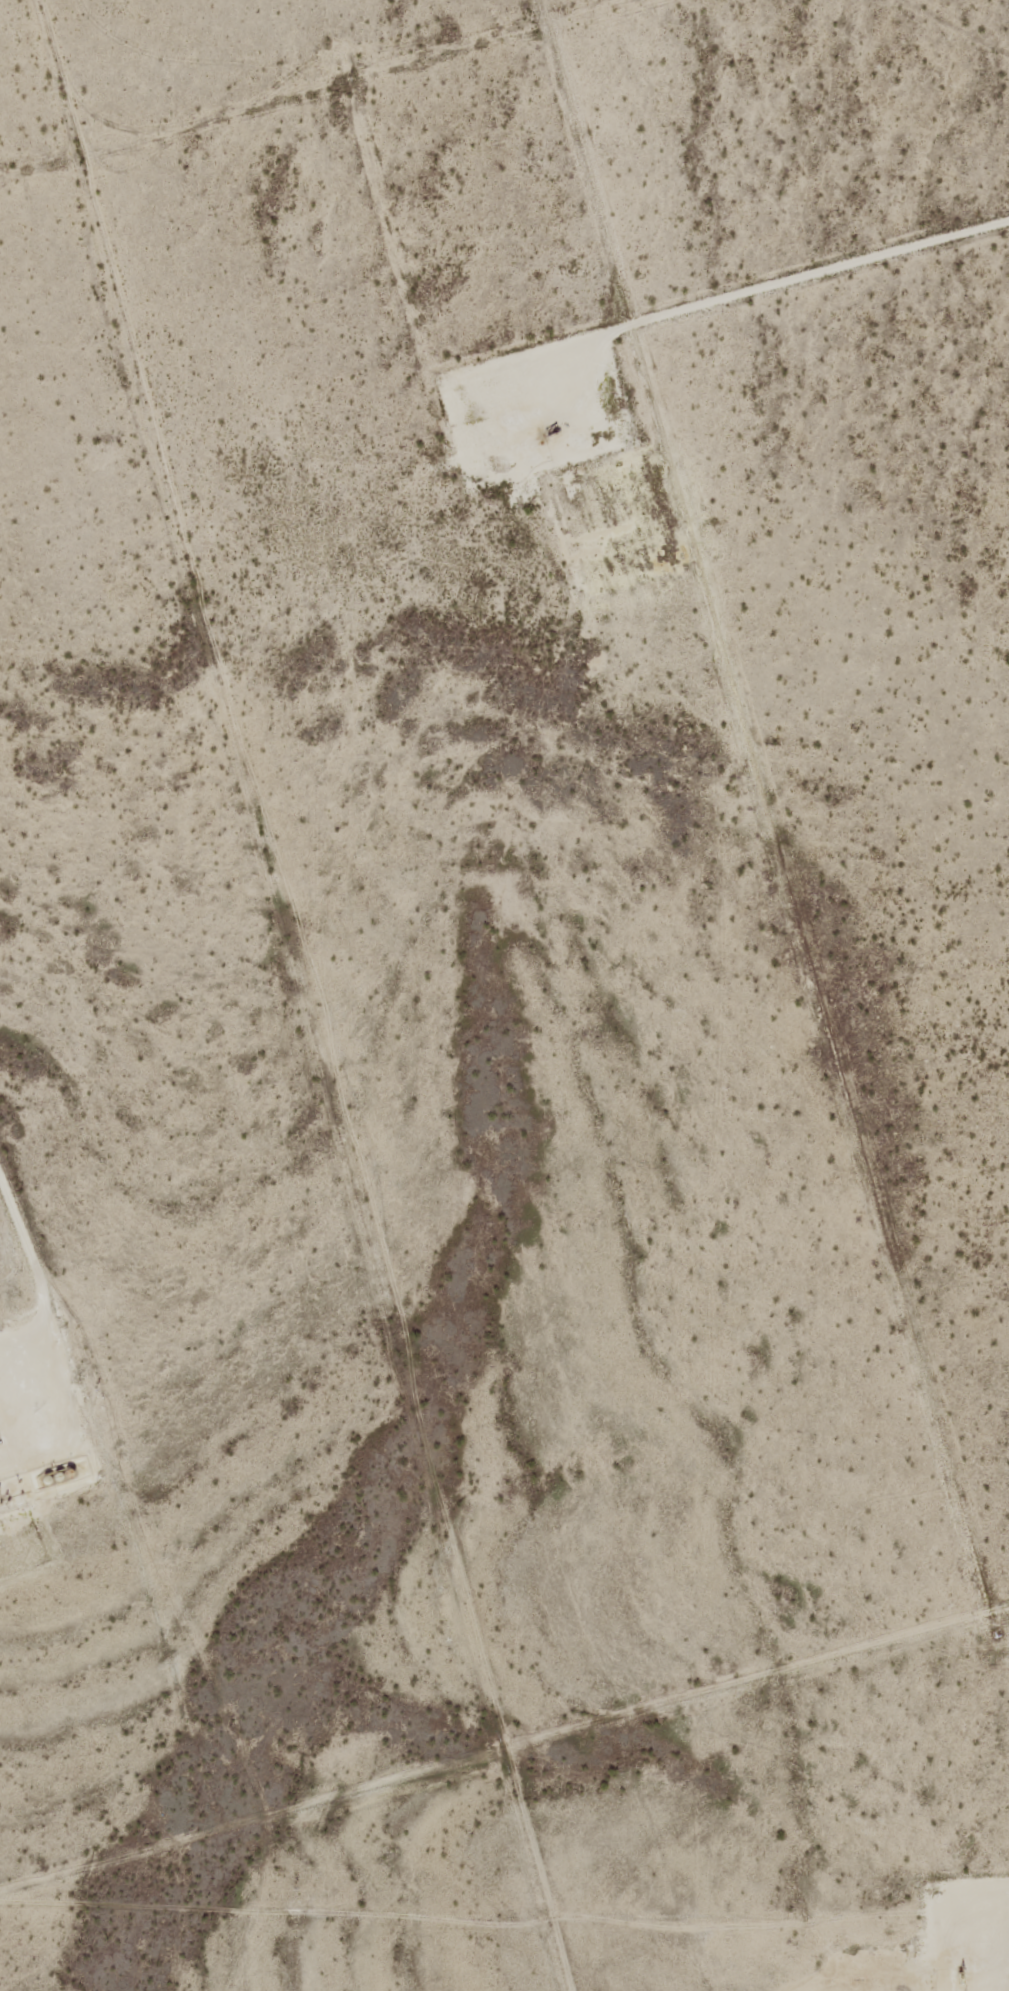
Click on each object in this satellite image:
road: (39, 1280)

